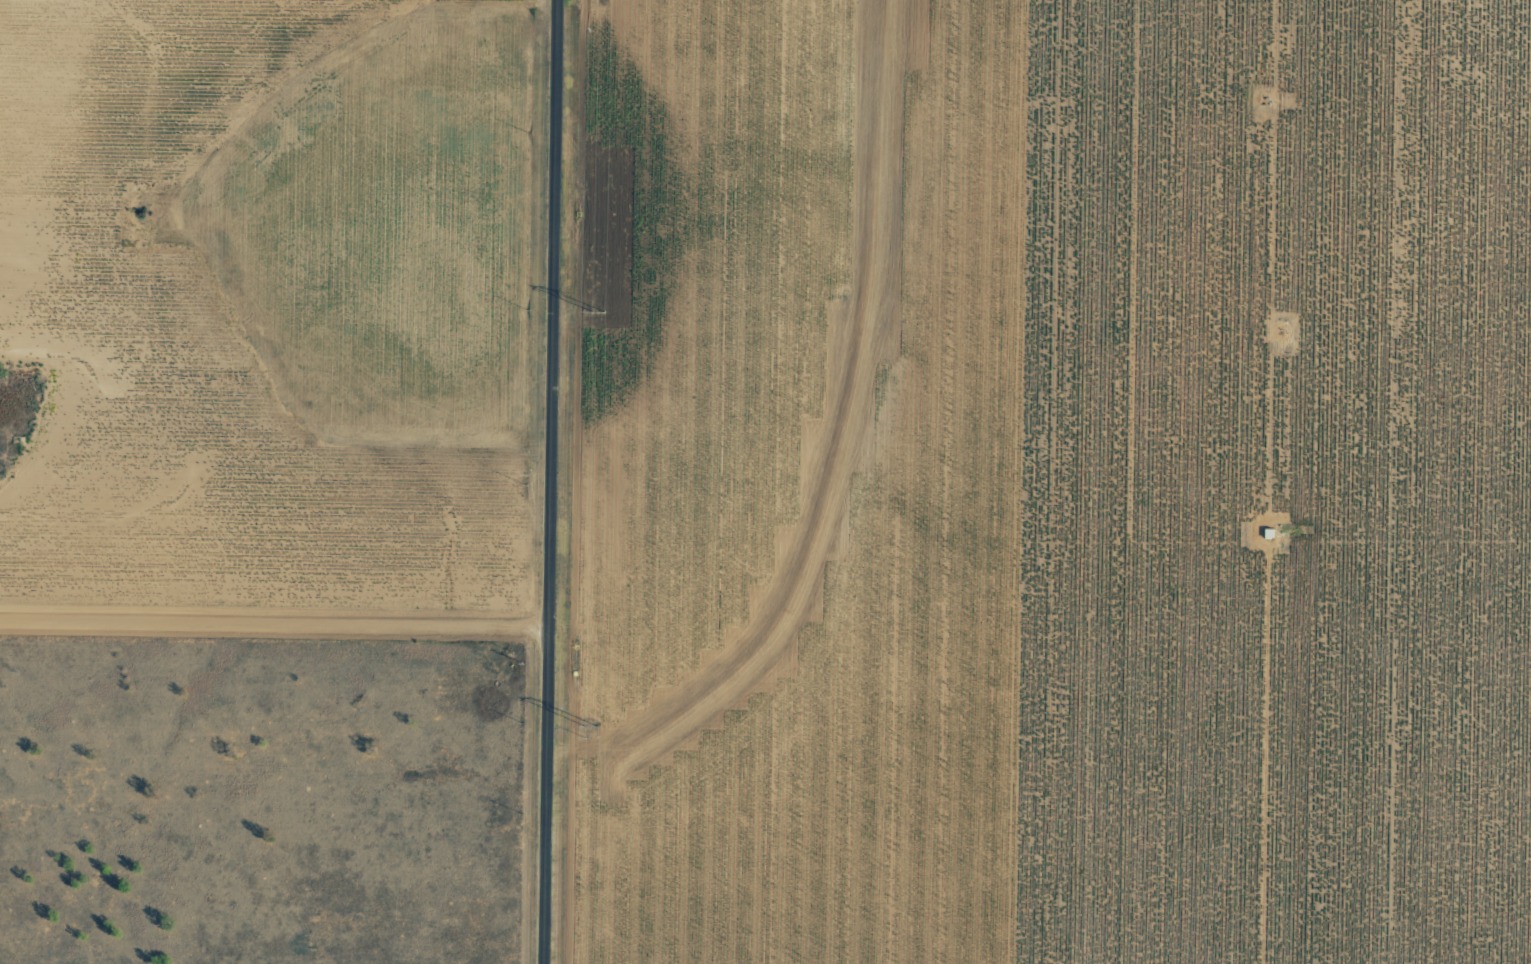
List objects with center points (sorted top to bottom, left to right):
power tower: (600, 310)
road: (557, 481)
road: (277, 624)
power tower: (593, 725)

